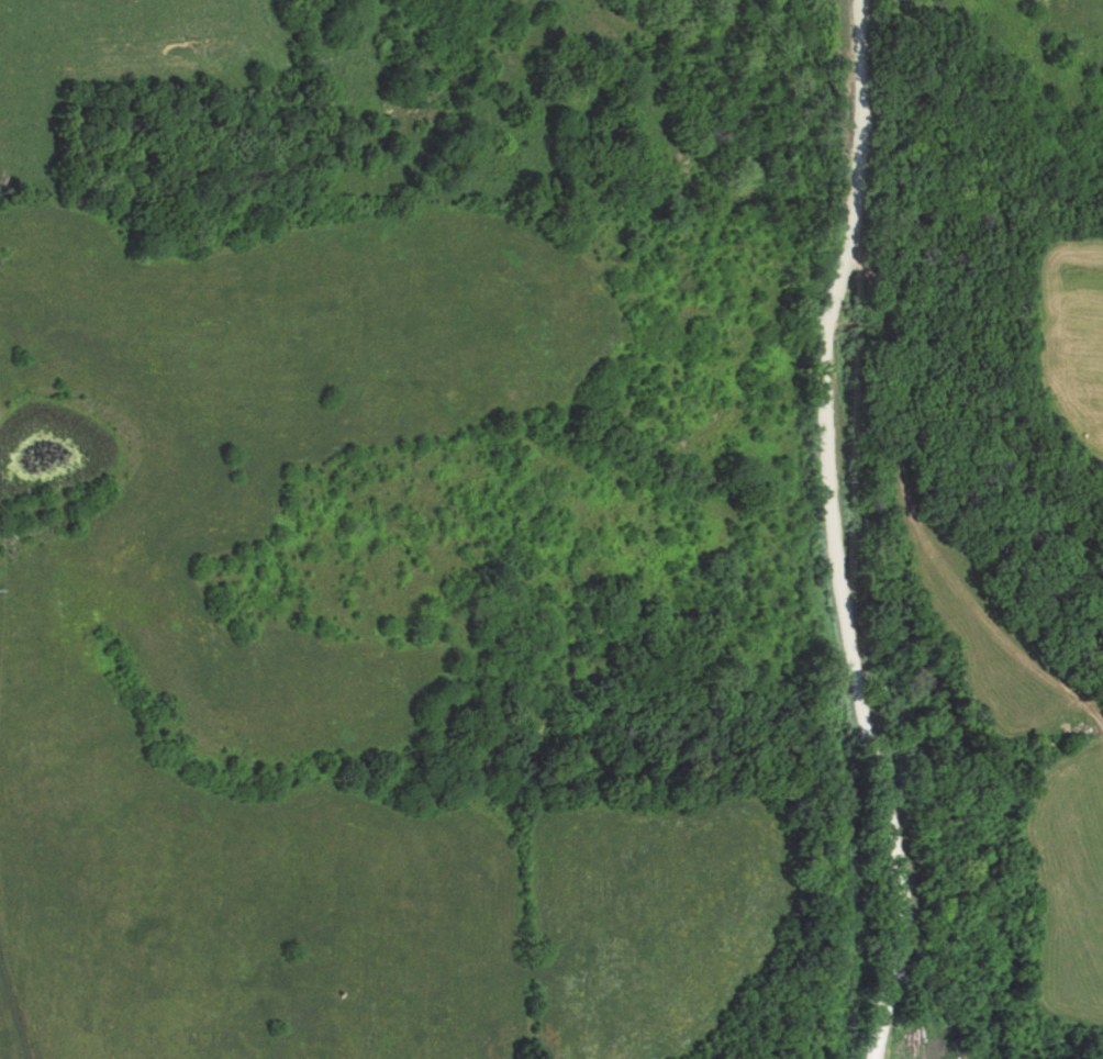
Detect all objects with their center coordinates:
road: (831, 532)

